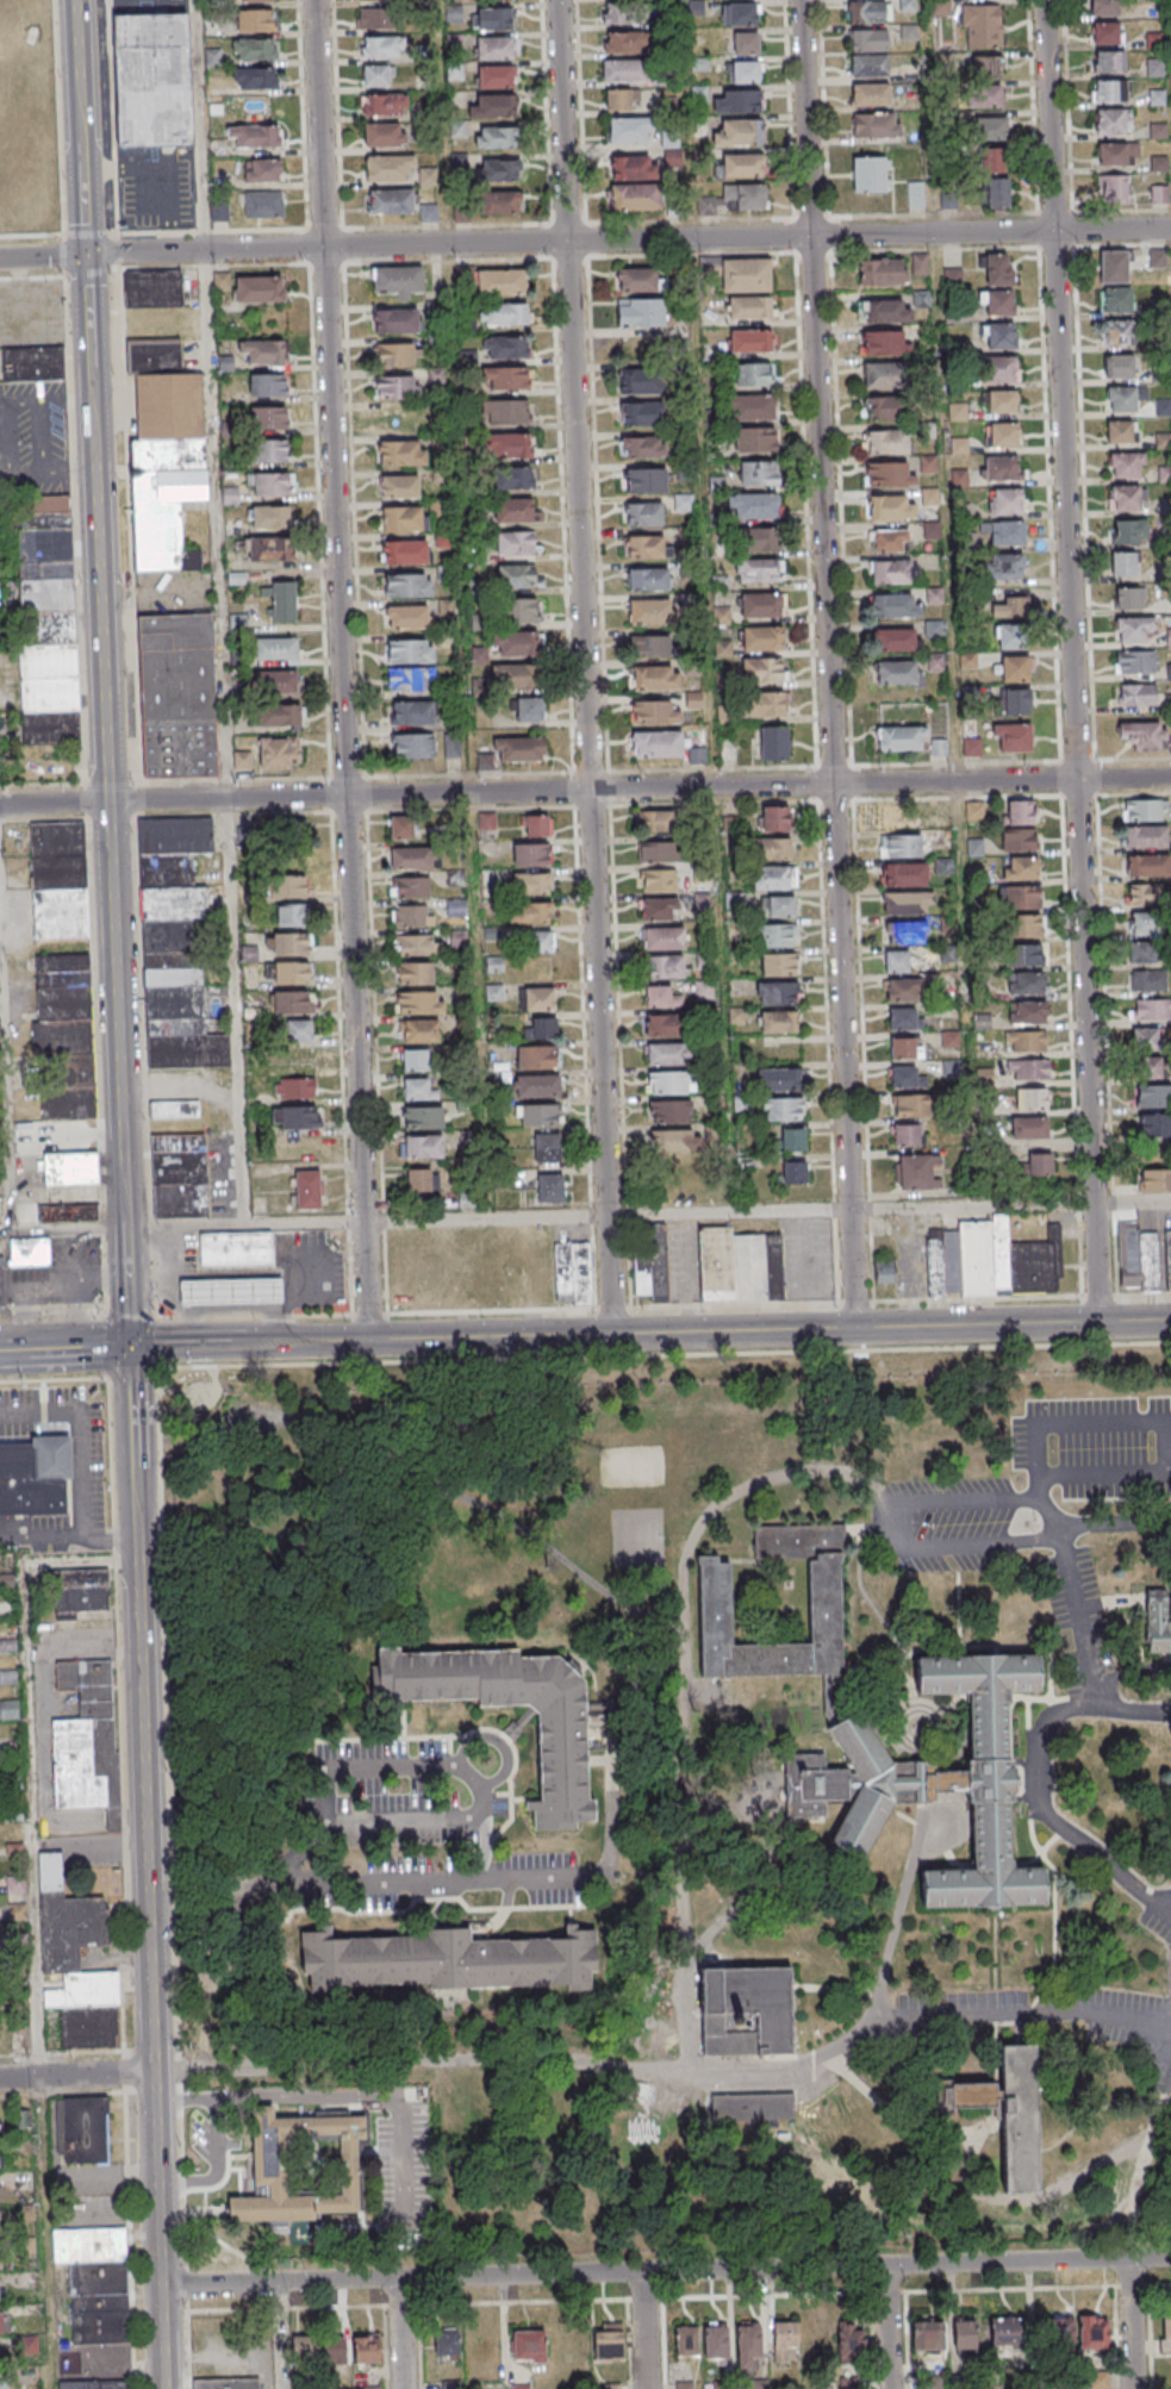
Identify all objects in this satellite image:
building: (255, 0)
building: (369, 0)
building: (1104, 7)
building: (866, 11)
building: (740, 13)
building: (622, 14)
building: (375, 18)
building: (491, 18)
building: (255, 19)
building: (983, 25)
building: (1105, 33)
building: (868, 39)
building: (745, 42)
building: (625, 43)
building: (382, 46)
building: (494, 48)
building: (254, 49)
building: (1109, 62)
building: (868, 64)
building: (986, 67)
building: (1154, 67)
building: (623, 71)
building: (743, 71)
building: (376, 75)
building: (496, 76)
building: (151, 77)
building: (256, 77)
building: (1109, 91)
building: (870, 94)
building: (985, 95)
building: (1157, 96)
building: (619, 100)
building: (741, 100)
building: (384, 104)
building: (493, 105)
park: (14, 116)
building: (1113, 121)
building: (871, 123)
road: (197, 125)
building: (990, 126)
road: (79, 127)
building: (629, 130)
building: (743, 130)
building: (1158, 130)
building: (385, 133)
building: (255, 136)
building: (496, 137)
building: (1117, 154)
building: (1159, 162)
building: (742, 164)
building: (388, 167)
building: (634, 167)
building: (263, 169)
building: (499, 169)
building: (870, 174)
building: (428, 176)
building: (1114, 189)
building: (995, 191)
building: (916, 193)
building: (633, 197)
building: (743, 197)
building: (390, 200)
building: (500, 201)
building: (264, 204)
building: (219, 210)
road: (585, 239)
traffic signals: (85, 255)
building: (1157, 257)
building: (1114, 266)
building: (999, 268)
building: (883, 270)
building: (746, 274)
building: (636, 279)
building: (398, 280)
building: (500, 282)
building: (152, 288)
building: (259, 288)
building: (1115, 299)
building: (997, 301)
building: (750, 306)
building: (885, 310)
building: (641, 312)
building: (504, 313)
building: (397, 320)
building: (1119, 332)
building: (1001, 335)
building: (750, 341)
building: (884, 343)
building: (505, 347)
building: (263, 353)
building: (397, 355)
building: (32, 363)
building: (1120, 367)
building: (1001, 369)
building: (753, 375)
building: (883, 375)
building: (509, 378)
building: (641, 381)
building: (266, 386)
building: (395, 387)
building: (1002, 401)
building: (883, 407)
building: (753, 408)
building: (507, 412)
building: (641, 413)
building: (268, 418)
building: (1119, 430)
building: (1003, 435)
building: (754, 441)
building: (1163, 441)
building: (886, 442)
building: (507, 445)
building: (641, 447)
building: (268, 451)
building: (164, 453)
building: (401, 453)
building: (928, 464)
building: (1127, 464)
building: (999, 468)
building: (758, 474)
building: (889, 475)
building: (959, 478)
building: (513, 479)
building: (644, 480)
road: (700, 484)
building: (270, 485)
building: (399, 487)
building: (929, 497)
building: (1125, 497)
building: (1005, 500)
building: (754, 507)
building: (890, 507)
building: (437, 509)
building: (513, 510)
building: (643, 513)
building: (270, 517)
building: (403, 518)
road: (213, 524)
road: (95, 528)
building: (1129, 531)
building: (1008, 532)
building: (760, 539)
building: (889, 541)
building: (516, 542)
building: (643, 545)
building: (270, 548)
building: (405, 551)
building: (1126, 563)
building: (1005, 566)
building: (759, 570)
building: (893, 570)
building: (517, 575)
building: (647, 579)
building: (407, 585)
building: (1129, 598)
building: (280, 599)
building: (762, 604)
building: (896, 605)
building: (1010, 607)
building: (524, 610)
building: (649, 612)
building: (406, 617)
building: (46, 620)
building: (1134, 629)
building: (1008, 636)
building: (762, 637)
building: (897, 640)
building: (517, 643)
building: (650, 645)
building: (275, 648)
building: (411, 651)
road: (1070, 661)
building: (1134, 661)
road: (827, 663)
road: (583, 667)
building: (1014, 668)
road: (340, 669)
building: (764, 669)
building: (899, 673)
building: (515, 676)
building: (655, 678)
building: (410, 679)
building: (275, 682)
building: (176, 694)
building: (1135, 694)
building: (693, 700)
building: (1017, 701)
building: (765, 704)
building: (530, 709)
building: (412, 712)
building: (654, 712)
building: (275, 716)
building: (1144, 734)
building: (1015, 736)
building: (901, 737)
building: (773, 742)
building: (656, 743)
building: (412, 744)
building: (939, 747)
building: (519, 748)
building: (279, 751)
road: (585, 790)
building: (1145, 810)
building: (1019, 811)
building: (776, 818)
building: (655, 821)
building: (536, 824)
building: (401, 827)
building: (289, 837)
building: (1146, 837)
building: (1019, 838)
building: (901, 846)
building: (974, 847)
building: (776, 848)
building: (658, 852)
building: (532, 855)
building: (413, 856)
building: (1148, 866)
building: (1020, 867)
building: (903, 873)
building: (774, 877)
building: (58, 879)
building: (659, 881)
building: (532, 884)
building: (289, 886)
building: (409, 886)
building: (1145, 896)
building: (1021, 897)
building: (702, 902)
building: (908, 903)
building: (778, 906)
building: (456, 907)
building: (659, 910)
building: (530, 912)
building: (292, 915)
building: (412, 915)
building: (1144, 924)
building: (1024, 925)
building: (905, 932)
building: (777, 935)
building: (664, 938)
building: (540, 941)
building: (289, 942)
building: (173, 944)
building: (413, 944)
building: (947, 953)
building: (1026, 954)
building: (1141, 954)
building: (896, 961)
building: (778, 963)
building: (665, 966)
building: (292, 972)
building: (412, 972)
building: (1148, 981)
building: (1024, 983)
building: (904, 988)
building: (703, 990)
building: (778, 992)
building: (660, 996)
building: (538, 999)
building: (291, 1000)
building: (416, 1002)
road: (231, 1011)
building: (1151, 1011)
building: (1028, 1012)
building: (904, 1018)
building: (778, 1021)
building: (664, 1024)
building: (543, 1028)
building: (293, 1030)
building: (418, 1030)
building: (66, 1033)
building: (951, 1038)
building: (1024, 1041)
building: (1150, 1041)
building: (905, 1047)
building: (667, 1053)
building: (536, 1058)
building: (301, 1059)
building: (415, 1059)
building: (1027, 1069)
building: (1151, 1069)
road: (118, 1073)
building: (905, 1077)
building: (777, 1080)
building: (671, 1081)
building: (536, 1086)
building: (294, 1087)
building: (418, 1089)
building: (1032, 1098)
building: (1152, 1098)
building: (912, 1105)
building: (175, 1109)
building: (669, 1110)
building: (781, 1110)
road: (5, 1111)
building: (538, 1114)
building: (299, 1116)
building: (423, 1117)
building: (1030, 1127)
building: (1154, 1127)
building: (905, 1134)
building: (674, 1140)
building: (792, 1140)
building: (424, 1146)
building: (546, 1147)
building: (1039, 1165)
building: (70, 1168)
building: (912, 1171)
building: (793, 1172)
building: (179, 1175)
building: (421, 1179)
building: (1154, 1180)
building: (307, 1189)
building: (550, 1189)
building: (68, 1212)
road: (585, 1215)
building: (239, 1248)
building: (30, 1252)
building: (1139, 1255)
building: (1169, 1256)
parking lot: (811, 1259)
building: (650, 1260)
building: (1007, 1260)
parking lot: (687, 1261)
building: (934, 1262)
building: (743, 1266)
building: (885, 1268)
building: (573, 1272)
building: (1, 1279)
building: (235, 1291)
road: (585, 1308)
road: (768, 1329)
road: (299, 1341)
road: (180, 1345)
traffic signals: (130, 1346)
road: (79, 1347)
road: (13, 1349)
road: (662, 1355)
road: (1156, 1422)
parking lot: (1096, 1446)
road: (83, 1461)
park: (634, 1468)
building: (37, 1474)
road: (905, 1521)
parking lot: (957, 1524)
road: (1117, 1524)
park: (637, 1540)
building: (80, 1591)
building: (716, 1604)
parking lot: (1083, 1617)
road: (1084, 1617)
building: (1157, 1623)
road: (1133, 1670)
building: (8, 1708)
building: (87, 1739)
road: (504, 1744)
building: (560, 1766)
road: (404, 1767)
building: (933, 1782)
road: (1042, 1782)
road: (611, 1819)
road: (411, 1821)
road: (152, 1866)
road: (269, 1878)
road: (440, 1882)
road: (204, 1919)
road: (896, 1919)
building: (75, 1961)
building: (451, 1961)
building: (745, 2010)
parking lot: (1029, 2014)
building: (19, 2038)
road: (675, 2071)
road: (80, 2073)
road: (335, 2100)
building: (750, 2106)
building: (1011, 2115)
building: (0, 2127)
building: (86, 2129)
building: (0, 2162)
road: (213, 2162)
building: (269, 2165)
road: (1144, 2175)
building: (1, 2192)
building: (1, 2225)
building: (1, 2259)
road: (668, 2270)
building: (95, 2282)
building: (2, 2322)
road: (1136, 2323)
road: (895, 2327)
road: (650, 2329)
building: (1089, 2331)
road: (400, 2333)
building: (1010, 2333)
building: (1166, 2333)
building: (964, 2334)
road: (287, 2335)
building: (926, 2335)
building: (784, 2338)
building: (447, 2341)
building: (687, 2341)
building: (716, 2341)
building: (851, 2341)
building: (609, 2343)
building: (748, 2344)
building: (529, 2345)
building: (366, 2349)
building: (303, 2350)
building: (334, 2351)
building: (226, 2383)
building: (6, 2384)
building: (94, 2384)
building: (521, 2387)
building: (367, 2388)

